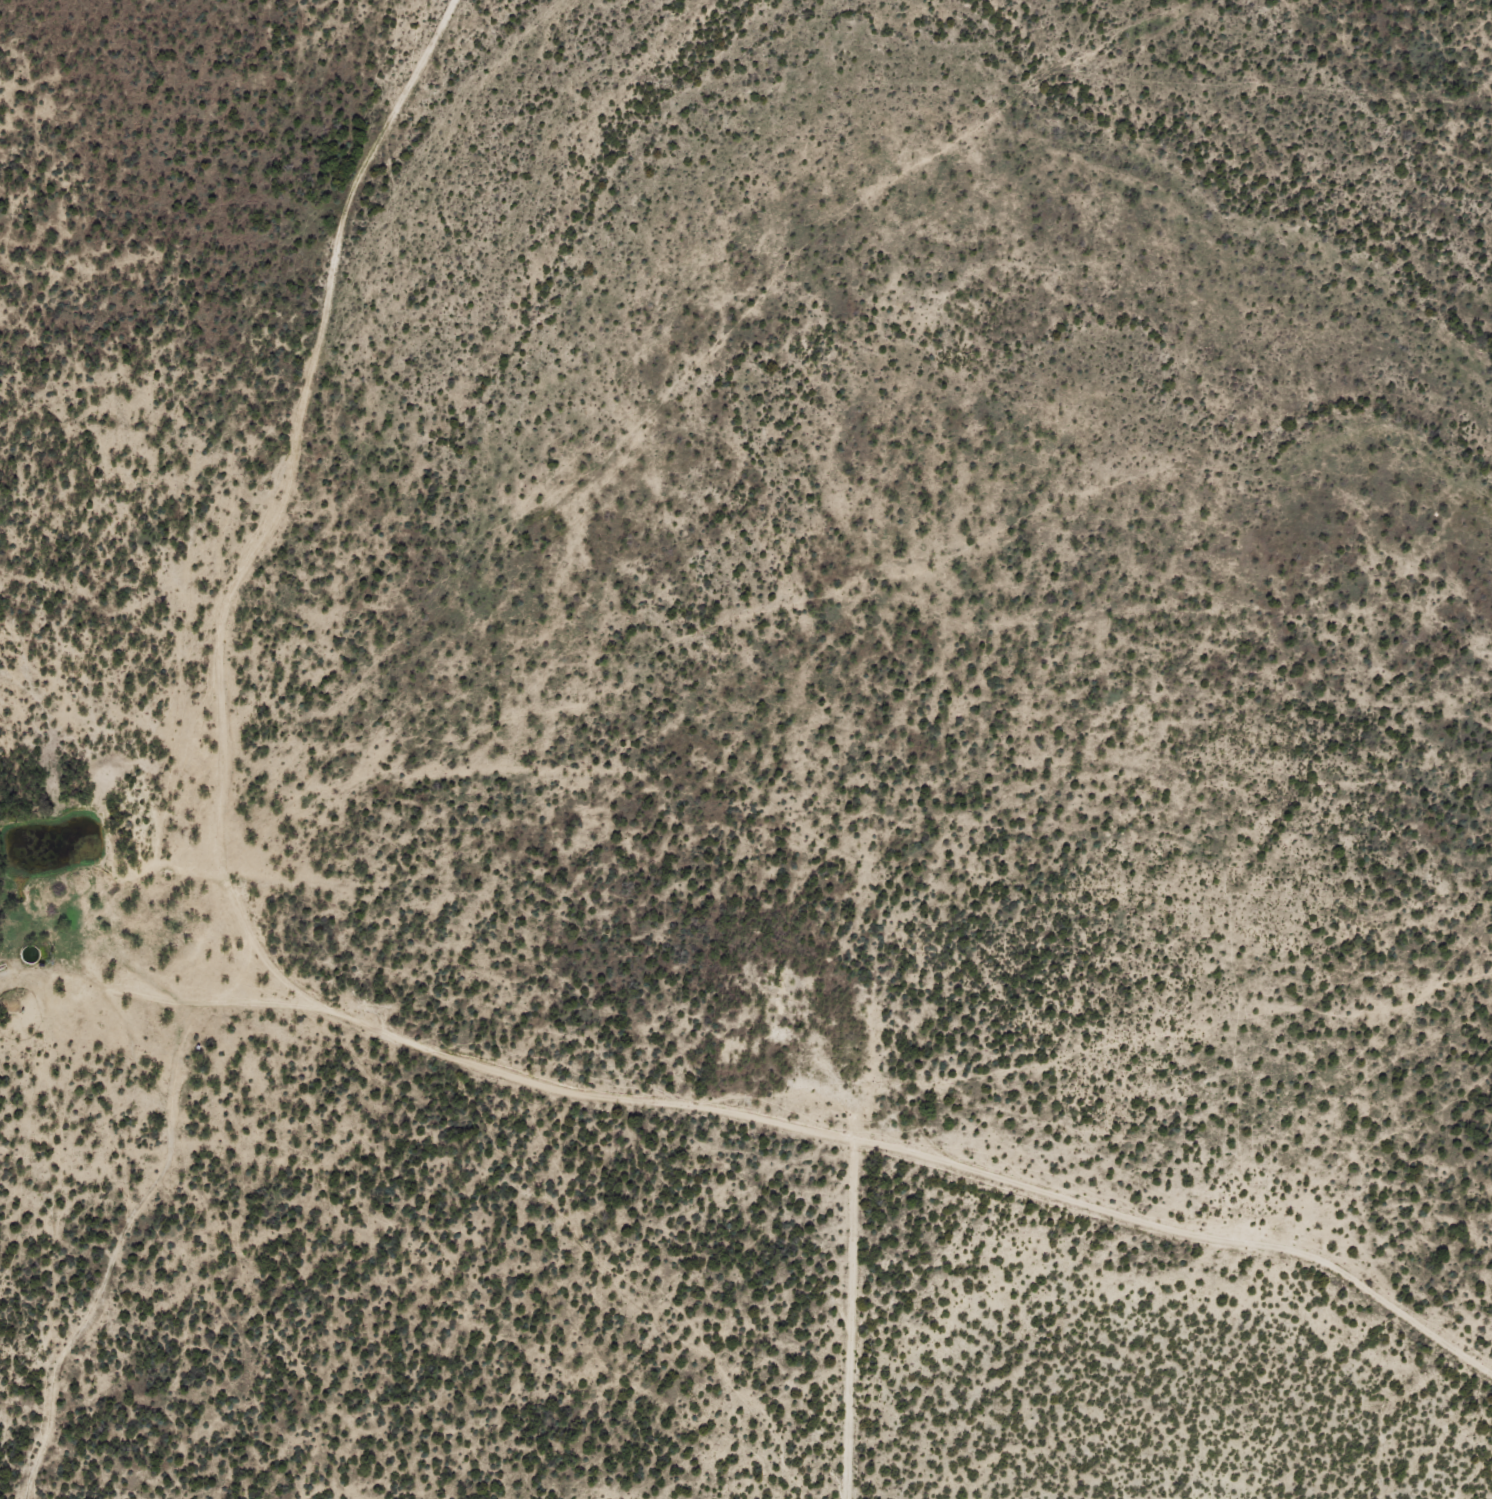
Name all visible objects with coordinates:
road: (192, 1047)
road: (876, 1278)

